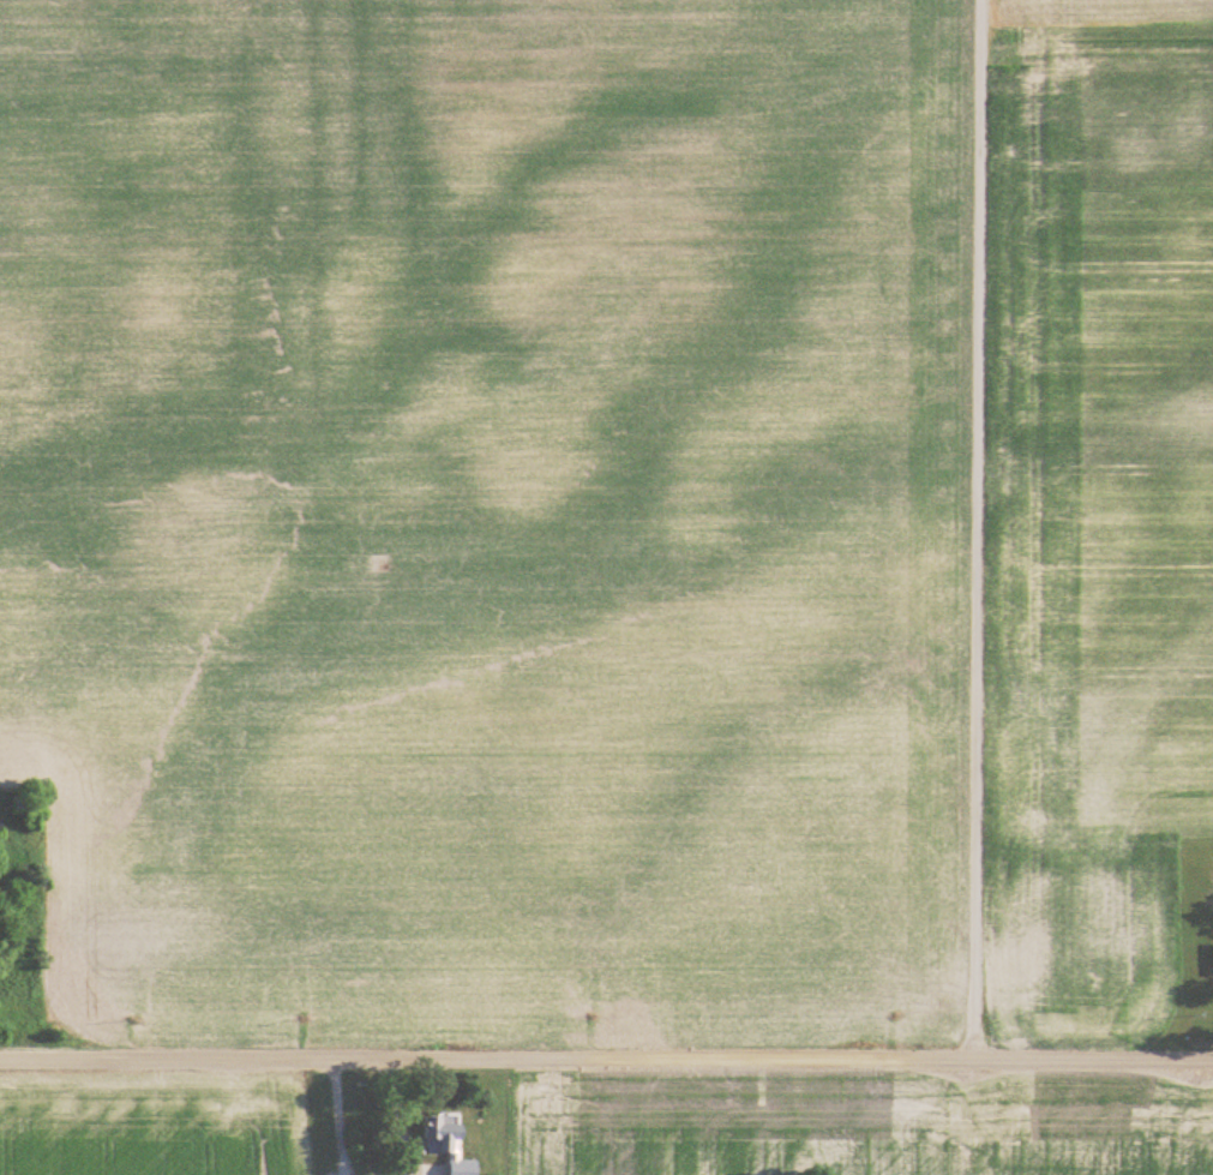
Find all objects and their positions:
road: (959, 529)
road: (606, 1059)
building: (446, 1144)

